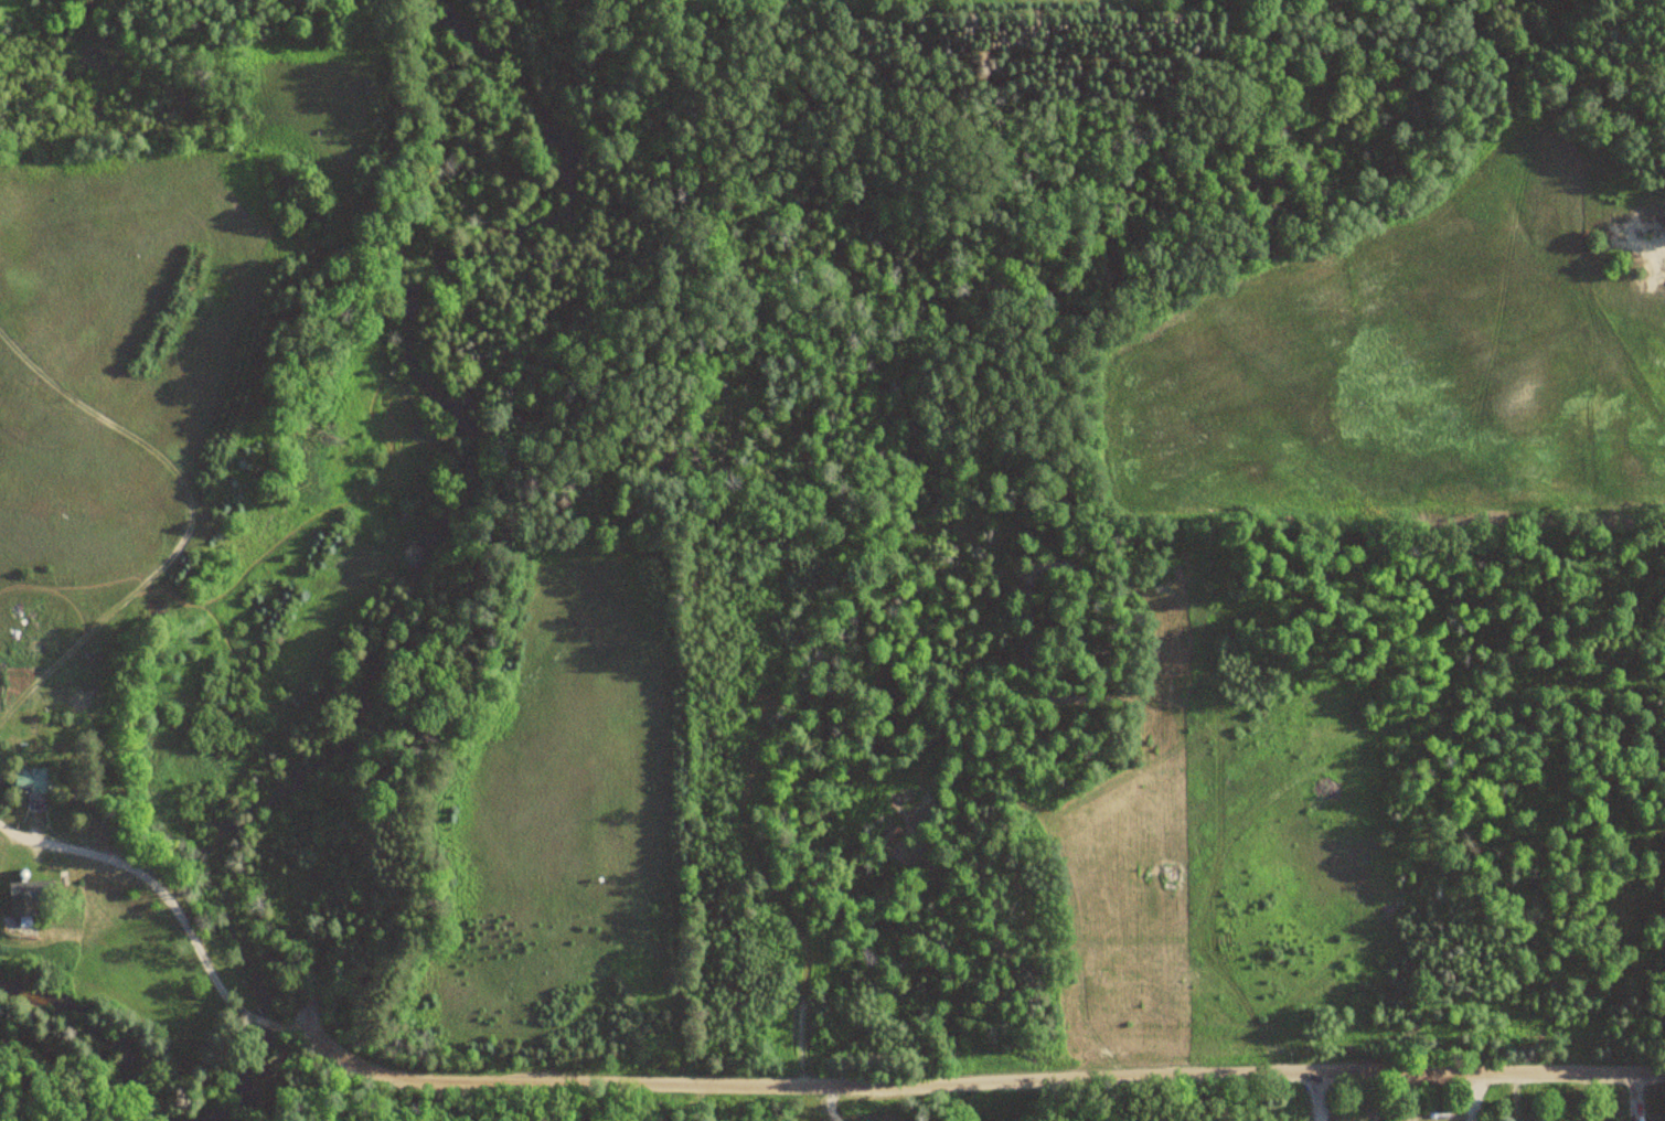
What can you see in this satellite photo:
river: (376, 652)
building: (24, 780)
road: (157, 885)
building: (22, 897)
road: (269, 1023)
road: (292, 1029)
road: (978, 1080)
road: (1320, 1096)

